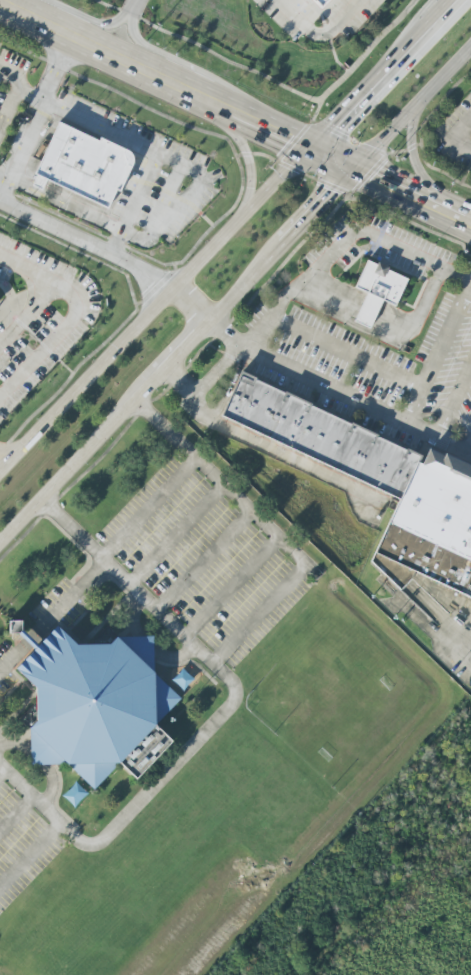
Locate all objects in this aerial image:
building: (319, 3)
road: (117, 27)
road: (315, 30)
road: (9, 106)
road: (234, 116)
road: (35, 122)
traffic signals: (331, 126)
road: (96, 129)
road: (464, 135)
traffic signals: (289, 141)
road: (248, 157)
building: (85, 164)
road: (418, 164)
road: (6, 178)
traffic signals: (372, 180)
traffic signals: (335, 191)
road: (182, 197)
road: (133, 207)
road: (114, 227)
road: (225, 236)
road: (109, 257)
road: (314, 269)
building: (376, 291)
road: (234, 296)
road: (28, 312)
road: (74, 314)
road: (386, 323)
road: (458, 346)
road: (345, 352)
road: (439, 352)
road: (337, 391)
road: (454, 398)
road: (267, 447)
road: (470, 450)
road: (2, 464)
building: (377, 481)
road: (149, 507)
road: (268, 527)
road: (177, 534)
road: (203, 560)
road: (232, 587)
road: (53, 617)
road: (458, 636)
road: (145, 645)
building: (97, 705)
road: (219, 717)
road: (43, 761)
road: (2, 771)
road: (16, 813)
road: (31, 858)

